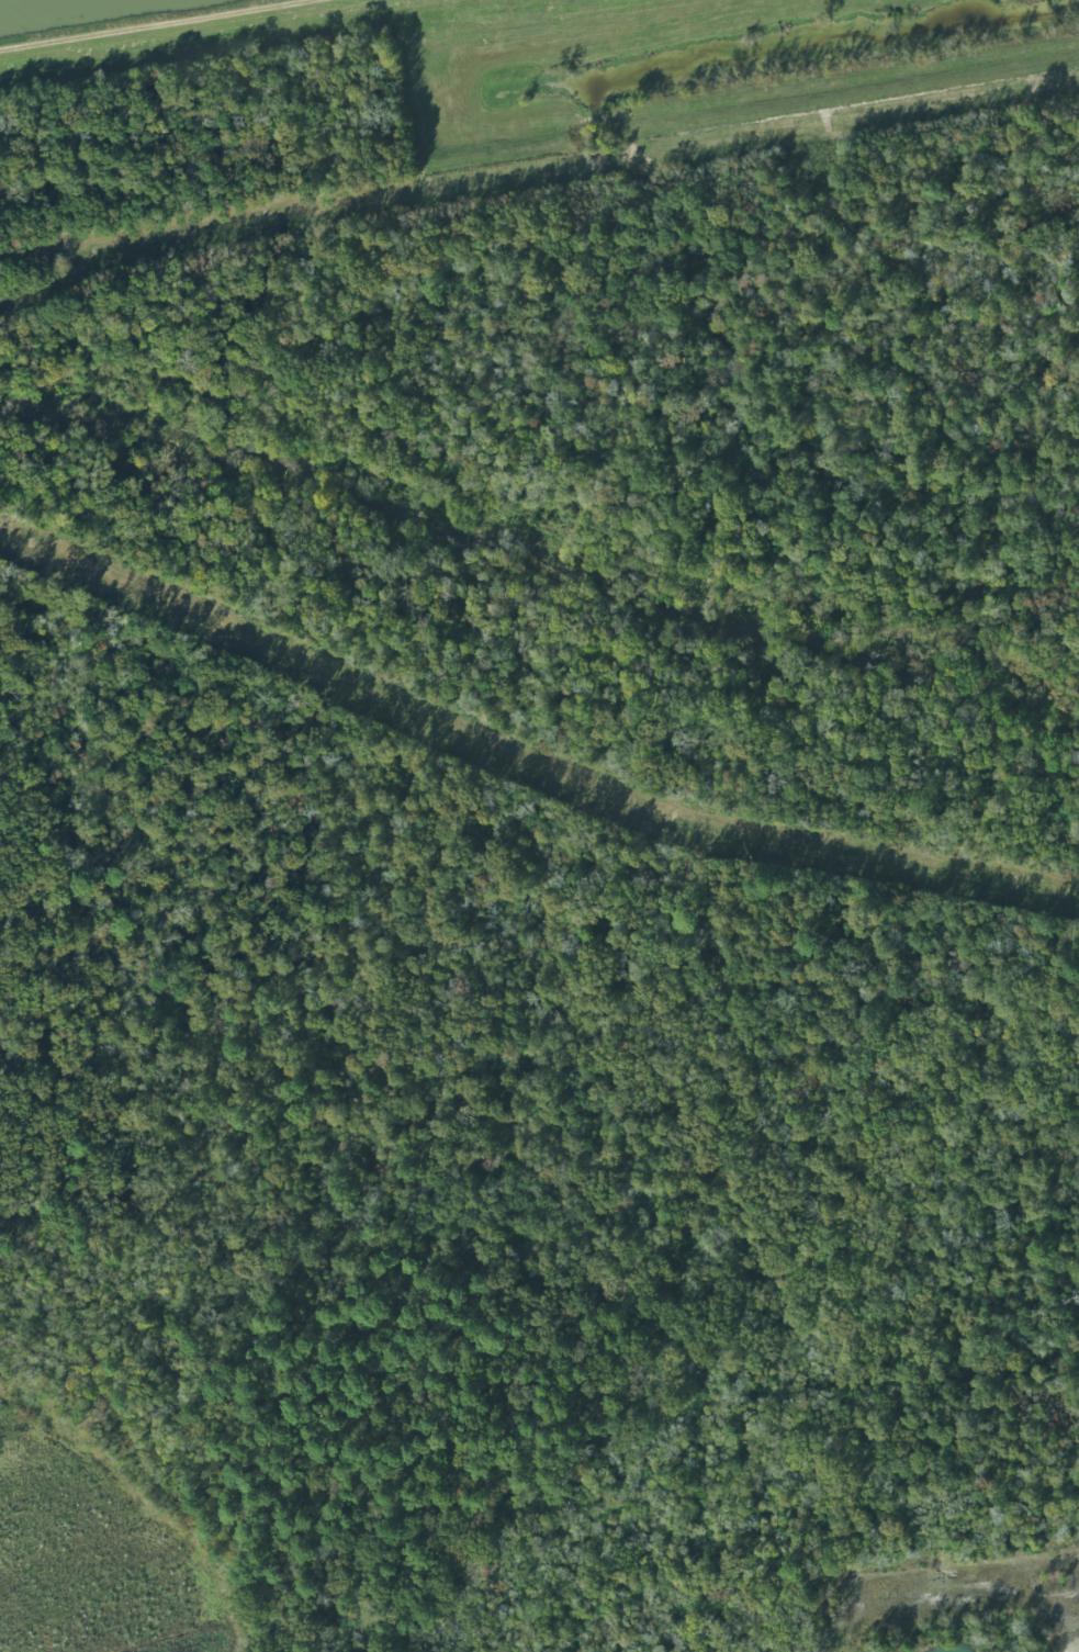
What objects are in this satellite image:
road: (143, 1497)

